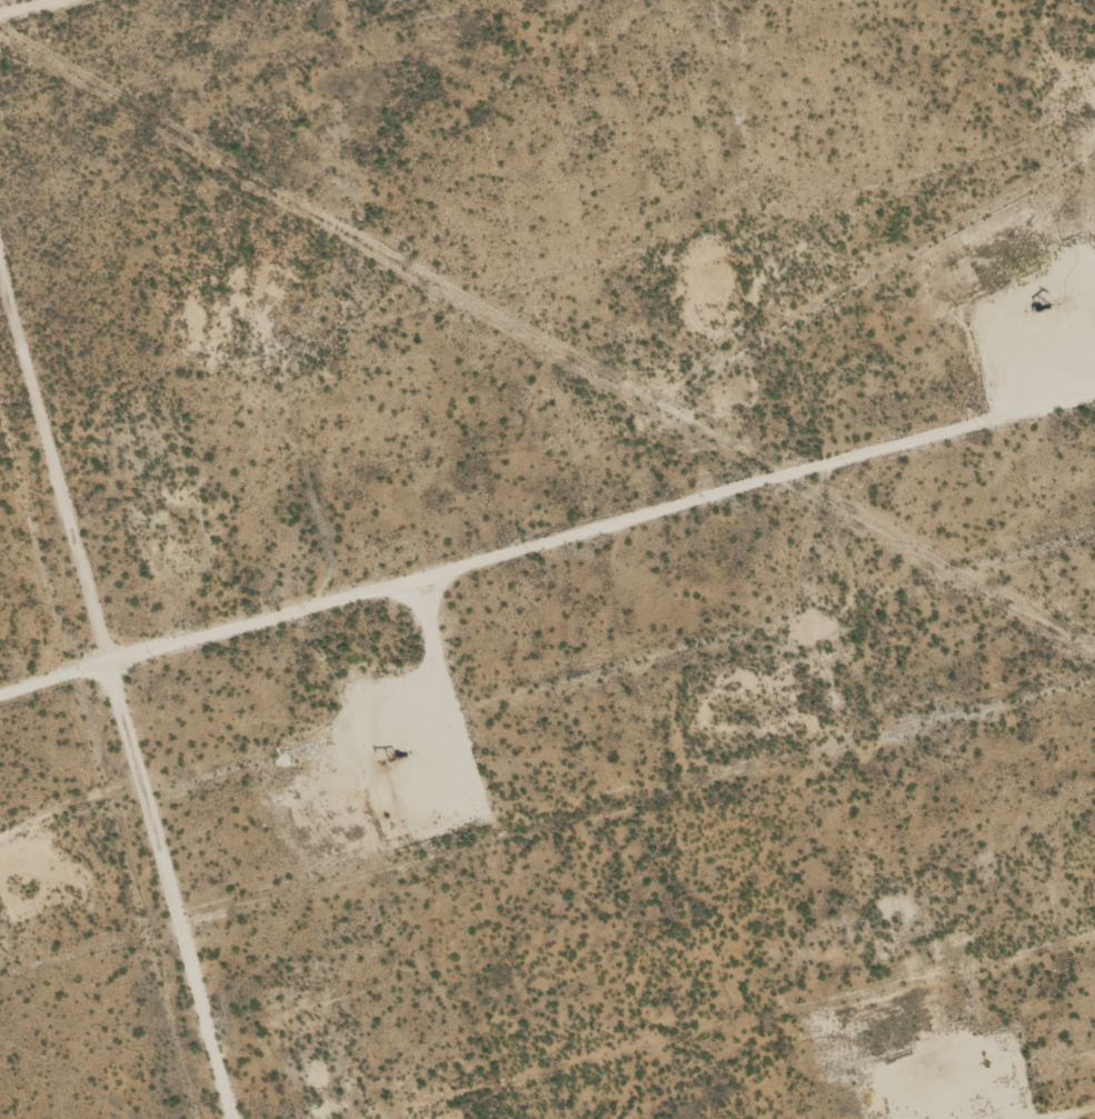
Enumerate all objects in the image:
road: (122, 33)
road: (570, 578)
road: (84, 840)

